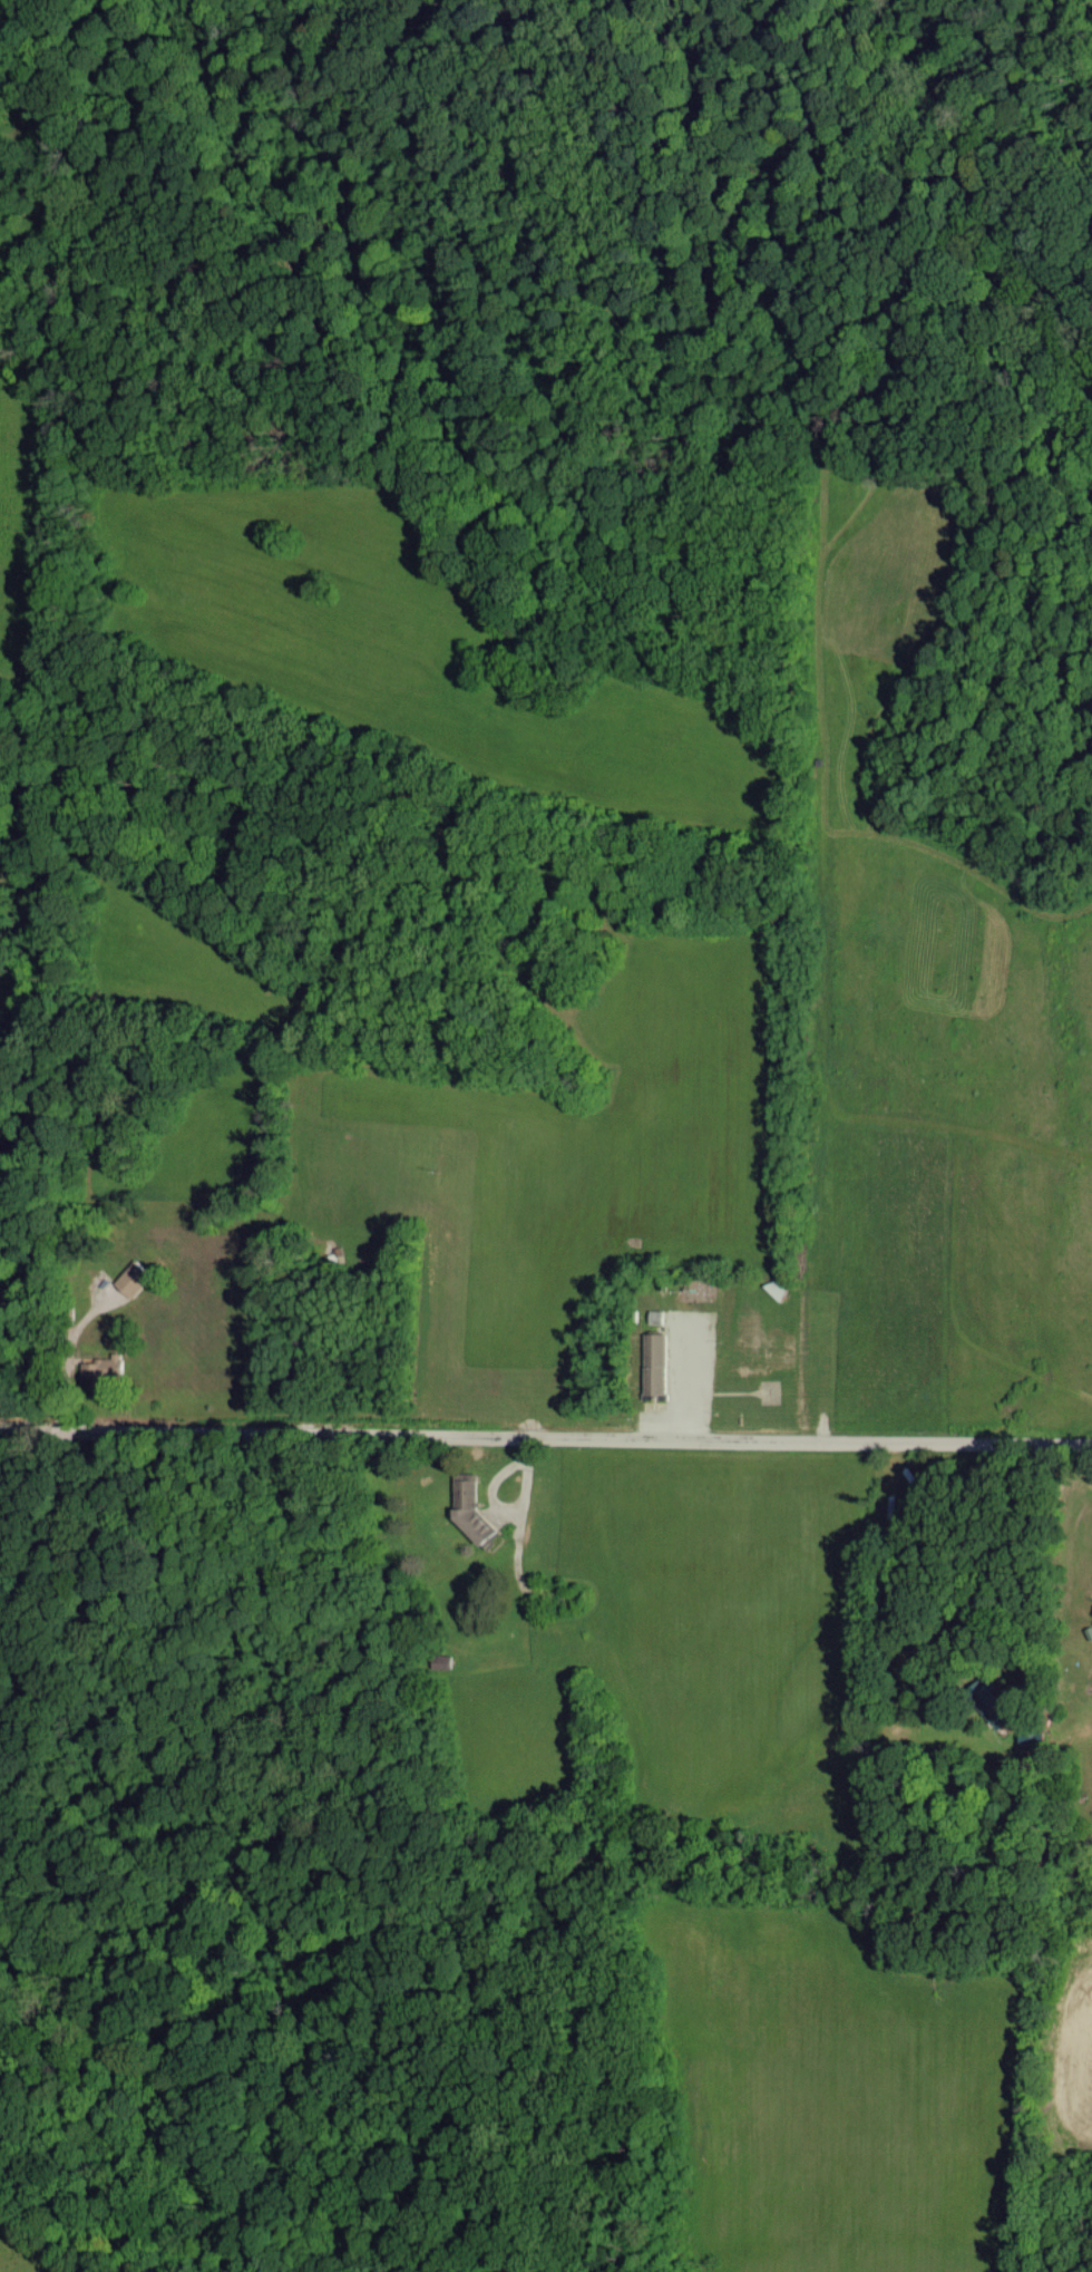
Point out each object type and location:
building: (127, 1279)
building: (651, 1362)
building: (101, 1366)
road: (545, 1457)

